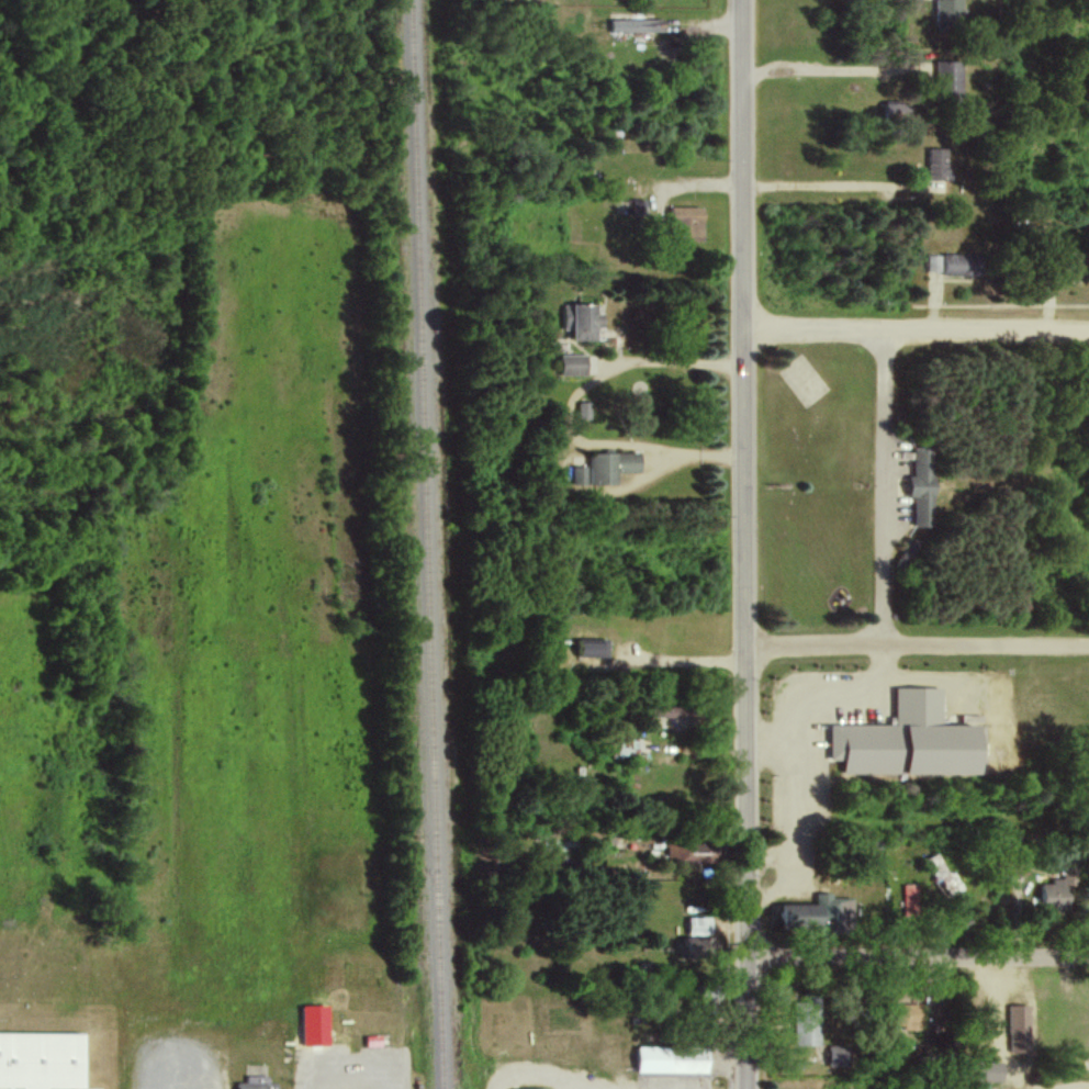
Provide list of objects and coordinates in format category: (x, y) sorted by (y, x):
building: (948, 12)
building: (638, 24)
road: (826, 68)
building: (948, 79)
building: (897, 110)
building: (939, 162)
road: (834, 181)
building: (637, 206)
building: (687, 222)
building: (955, 262)
building: (582, 319)
road: (917, 328)
building: (573, 363)
building: (584, 409)
road: (629, 444)
road: (566, 445)
building: (606, 467)
road: (889, 481)
building: (923, 485)
railway: (427, 544)
road: (744, 544)
road: (916, 633)
building: (592, 647)
road: (683, 656)
building: (910, 739)
building: (943, 874)
building: (1057, 891)
building: (910, 899)
building: (820, 916)
building: (698, 924)
building: (695, 946)
road: (917, 956)
building: (909, 1014)
building: (807, 1021)
building: (316, 1024)
building: (1020, 1028)
building: (838, 1055)
building: (673, 1058)
building: (41, 1060)
building: (990, 1070)
building: (257, 1082)
road: (347, 1082)
building: (531, 1088)

